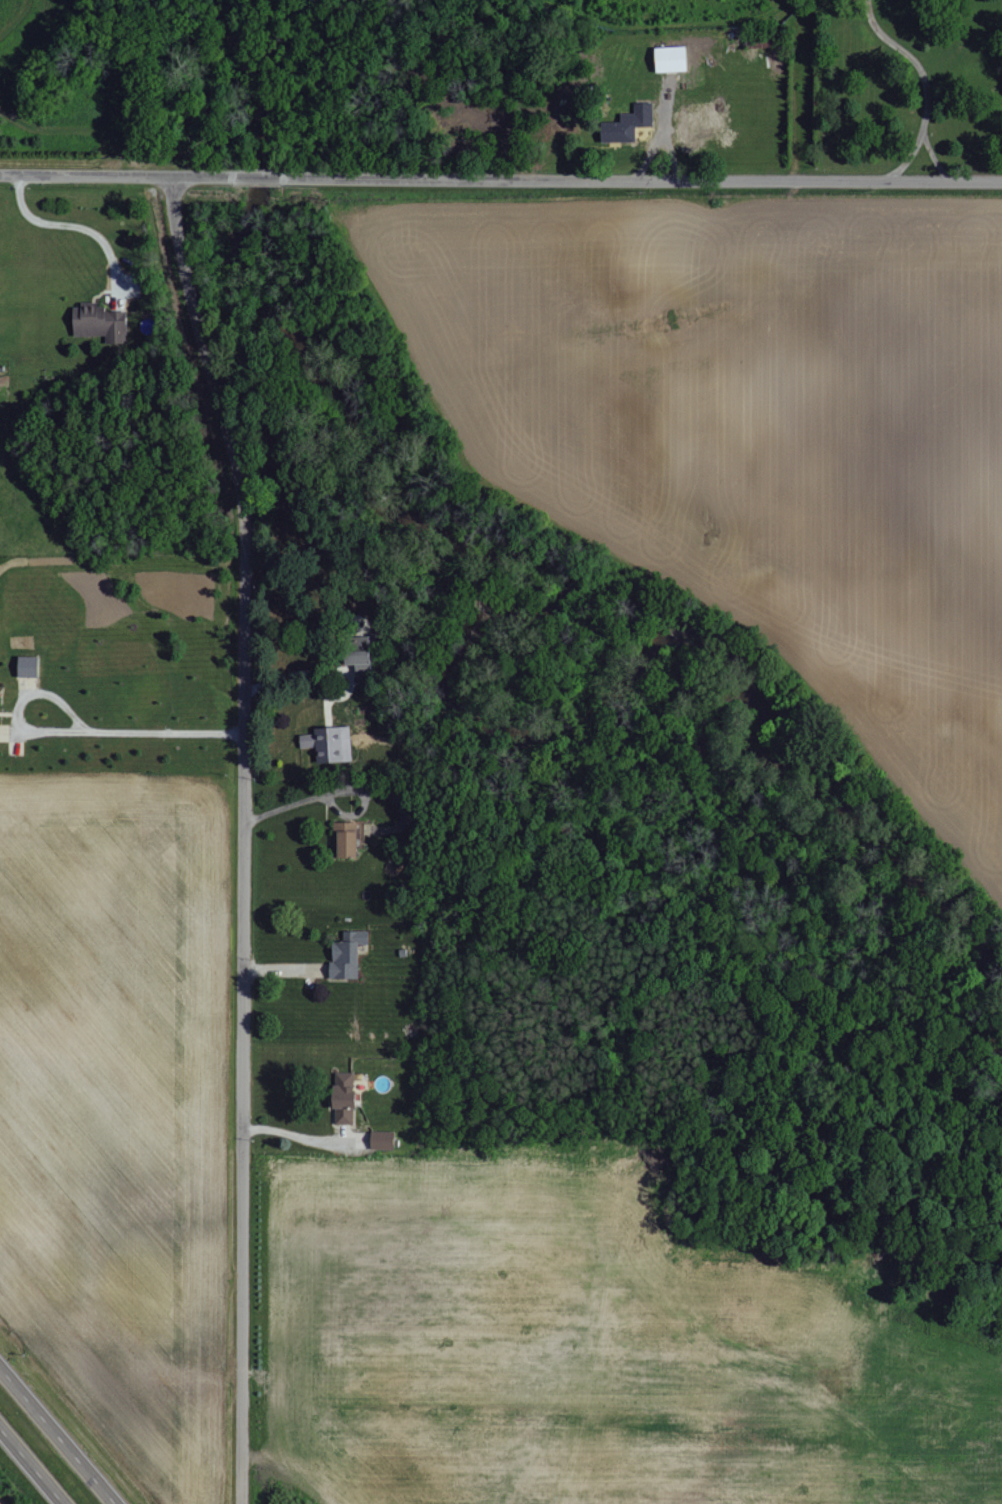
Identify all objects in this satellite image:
road: (911, 58)
building: (674, 60)
road: (666, 111)
building: (630, 125)
road: (659, 141)
road: (933, 157)
road: (908, 158)
road: (500, 180)
road: (78, 223)
building: (102, 324)
building: (361, 663)
building: (31, 666)
building: (0, 702)
road: (77, 728)
building: (331, 743)
road: (331, 791)
road: (243, 836)
building: (350, 838)
building: (350, 954)
building: (348, 1097)
building: (384, 1140)
road: (59, 1433)
road: (29, 1468)

